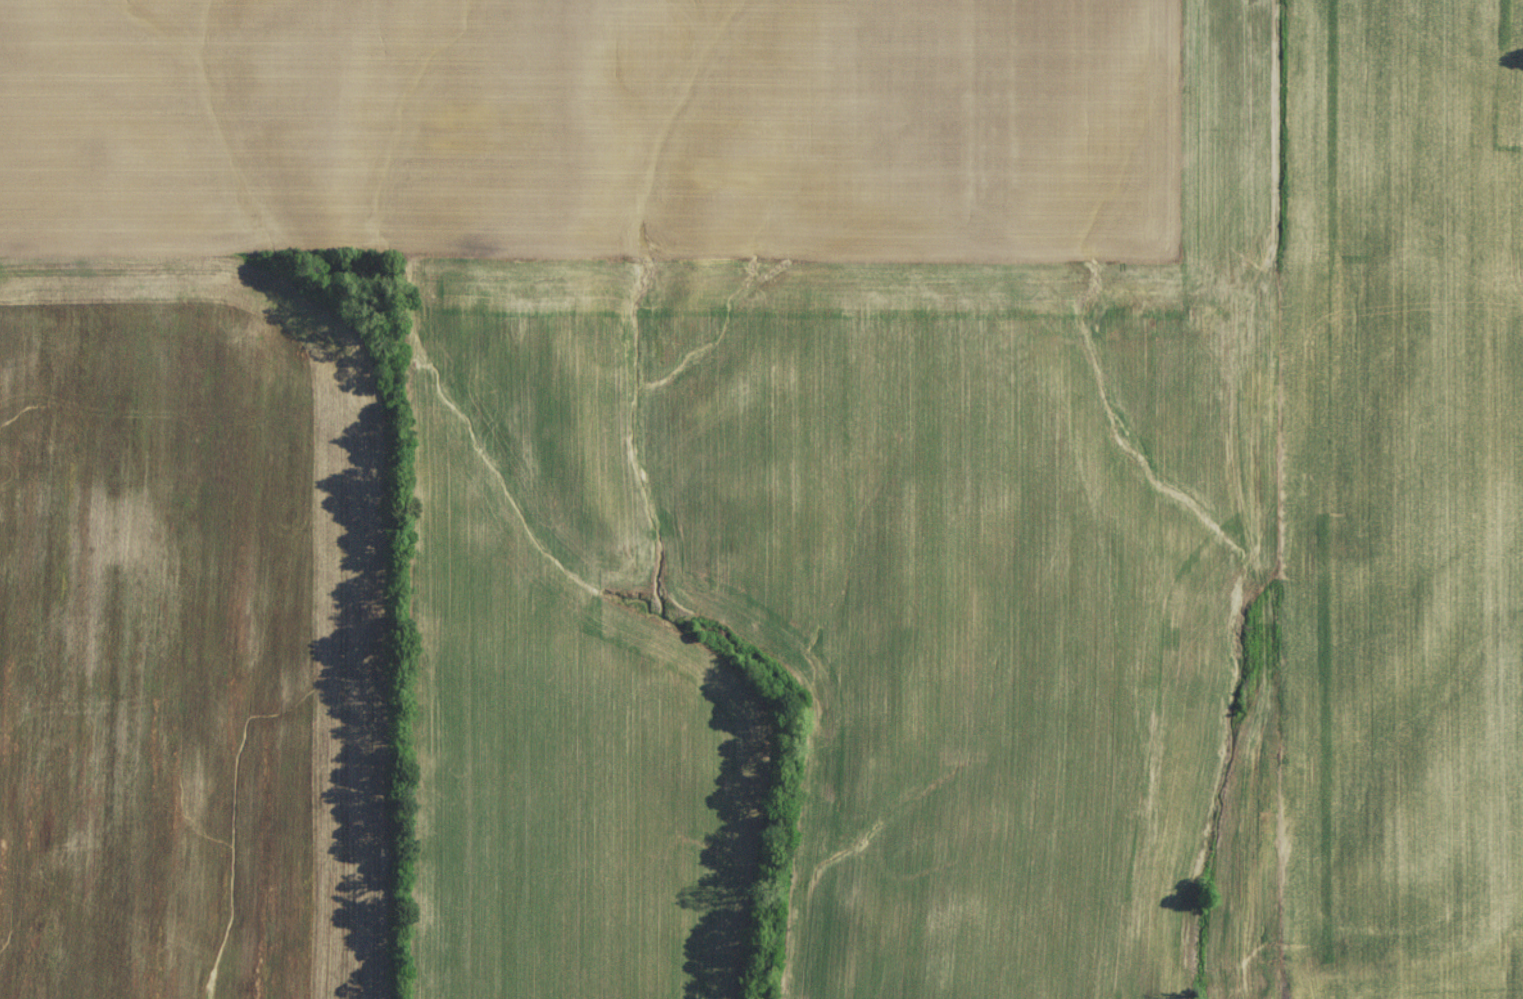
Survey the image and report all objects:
road: (1271, 130)

